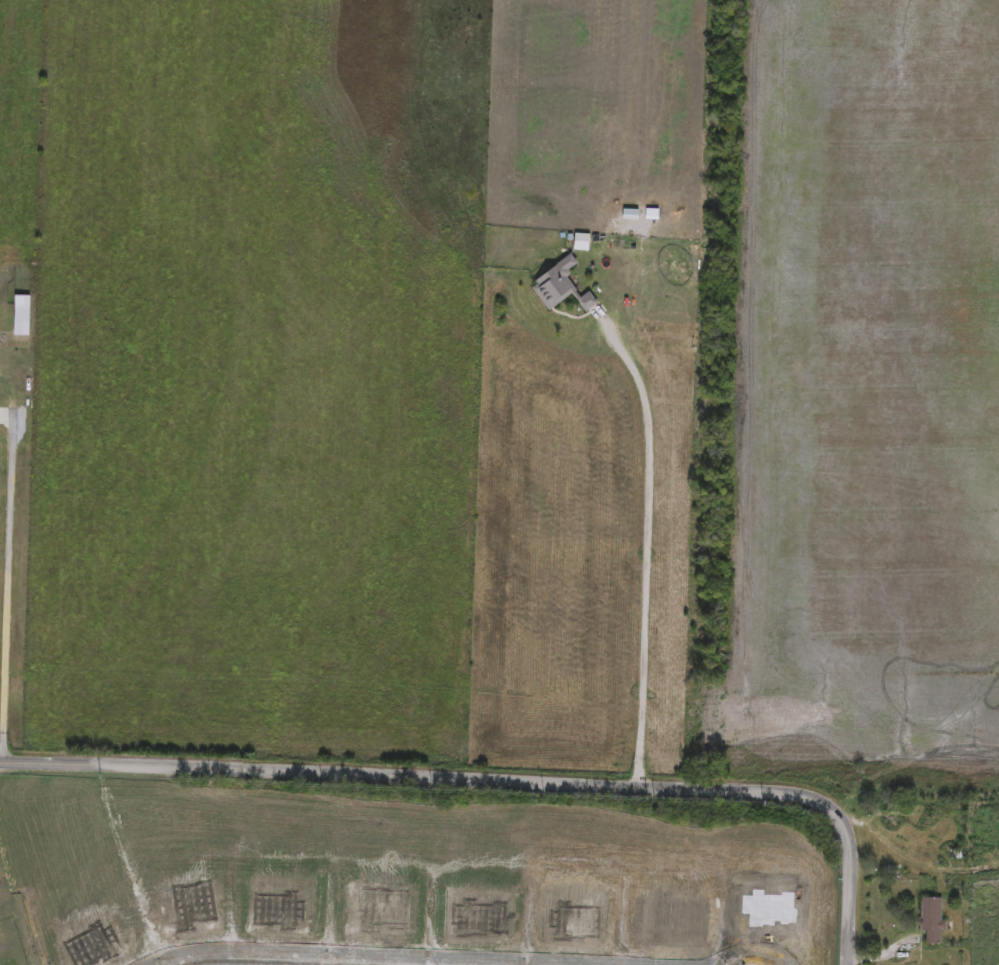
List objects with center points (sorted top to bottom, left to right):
building: (552, 284)
building: (585, 302)
building: (19, 316)
road: (646, 555)
road: (9, 593)
road: (498, 780)
road: (913, 857)
building: (930, 922)

